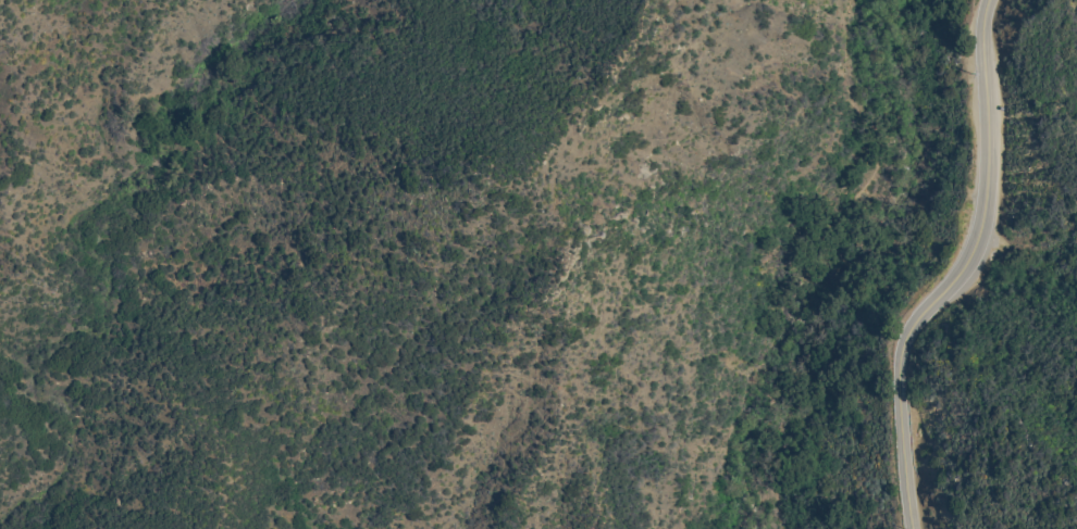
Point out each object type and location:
road: (854, 257)
road: (960, 272)

